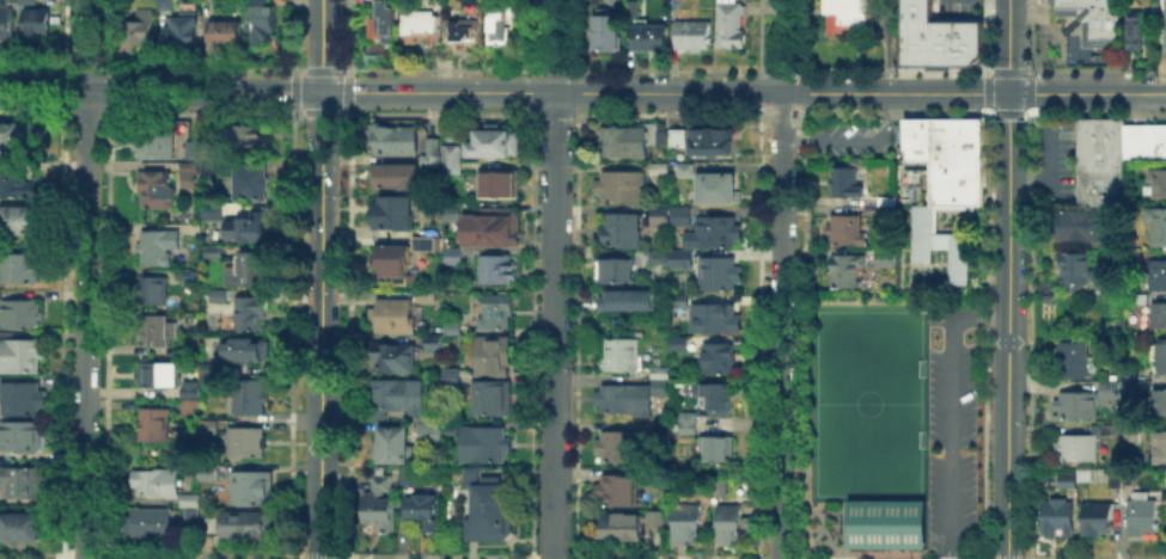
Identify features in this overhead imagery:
building: (28, 2)
building: (166, 5)
building: (633, 11)
building: (842, 16)
building: (1147, 16)
building: (384, 23)
building: (1098, 23)
building: (262, 24)
building: (422, 24)
building: (1161, 25)
building: (4, 26)
building: (37, 26)
building: (729, 26)
building: (501, 29)
building: (938, 32)
building: (610, 33)
building: (135, 35)
building: (181, 35)
building: (464, 35)
building: (225, 37)
building: (649, 37)
building: (694, 38)
road: (321, 45)
road: (1008, 47)
traffic signals: (321, 92)
road: (503, 92)
road: (1087, 93)
traffic signals: (1008, 94)
parking lot: (851, 136)
building: (22, 137)
road: (854, 139)
building: (708, 140)
building: (395, 141)
building: (494, 141)
building: (246, 145)
building: (624, 145)
building: (155, 146)
building: (428, 152)
building: (191, 153)
building: (946, 155)
building: (1109, 158)
building: (452, 160)
building: (209, 166)
building: (189, 168)
building: (657, 168)
building: (684, 171)
building: (395, 177)
building: (842, 180)
building: (249, 184)
building: (1158, 184)
building: (500, 185)
building: (16, 188)
building: (622, 189)
building: (154, 190)
building: (718, 191)
building: (883, 198)
building: (881, 208)
building: (447, 213)
building: (395, 215)
building: (660, 217)
building: (682, 217)
building: (22, 220)
building: (236, 225)
building: (487, 225)
building: (1082, 226)
building: (1155, 226)
building: (842, 228)
building: (622, 233)
building: (714, 234)
building: (935, 241)
building: (154, 252)
building: (214, 253)
building: (883, 256)
building: (680, 258)
building: (454, 259)
building: (654, 260)
building: (402, 262)
building: (843, 268)
building: (613, 269)
building: (23, 270)
building: (496, 270)
building: (1072, 270)
building: (252, 271)
building: (718, 275)
building: (1155, 276)
road: (780, 278)
road: (85, 279)
road: (554, 279)
building: (155, 293)
building: (218, 296)
building: (622, 297)
building: (426, 300)
building: (679, 300)
building: (659, 306)
building: (496, 313)
building: (24, 315)
building: (250, 317)
building: (1159, 317)
building: (389, 320)
building: (715, 322)
road: (319, 325)
road: (1007, 326)
building: (157, 328)
building: (432, 344)
building: (679, 345)
building: (244, 352)
building: (623, 354)
building: (494, 356)
building: (22, 358)
building: (1161, 358)
building: (395, 361)
building: (719, 361)
building: (1073, 361)
building: (158, 376)
building: (451, 379)
building: (1133, 383)
building: (663, 386)
building: (1142, 388)
building: (1106, 394)
building: (397, 395)
building: (250, 399)
building: (624, 399)
building: (22, 400)
building: (493, 400)
building: (718, 401)
park: (863, 401)
building: (1161, 405)
road: (948, 407)
building: (1076, 407)
building: (190, 410)
building: (686, 423)
building: (447, 425)
building: (149, 428)
parking lot: (950, 428)
building: (208, 430)
building: (431, 432)
building: (661, 434)
building: (20, 437)
building: (390, 444)
building: (482, 444)
building: (246, 446)
building: (619, 448)
building: (1078, 449)
building: (1156, 449)
building: (716, 451)
building: (209, 474)
building: (1083, 477)
building: (407, 479)
building: (1117, 480)
building: (1067, 483)
building: (24, 484)
building: (154, 484)
building: (380, 485)
building: (718, 486)
building: (251, 490)
building: (617, 492)
building: (189, 502)
building: (487, 508)
building: (379, 511)
building: (425, 515)
building: (1141, 516)
building: (1057, 518)
building: (189, 520)
building: (658, 521)
building: (1165, 521)
building: (1097, 522)
building: (732, 523)
building: (883, 523)
building: (149, 526)
building: (245, 526)
building: (688, 526)
building: (19, 528)
building: (622, 529)

